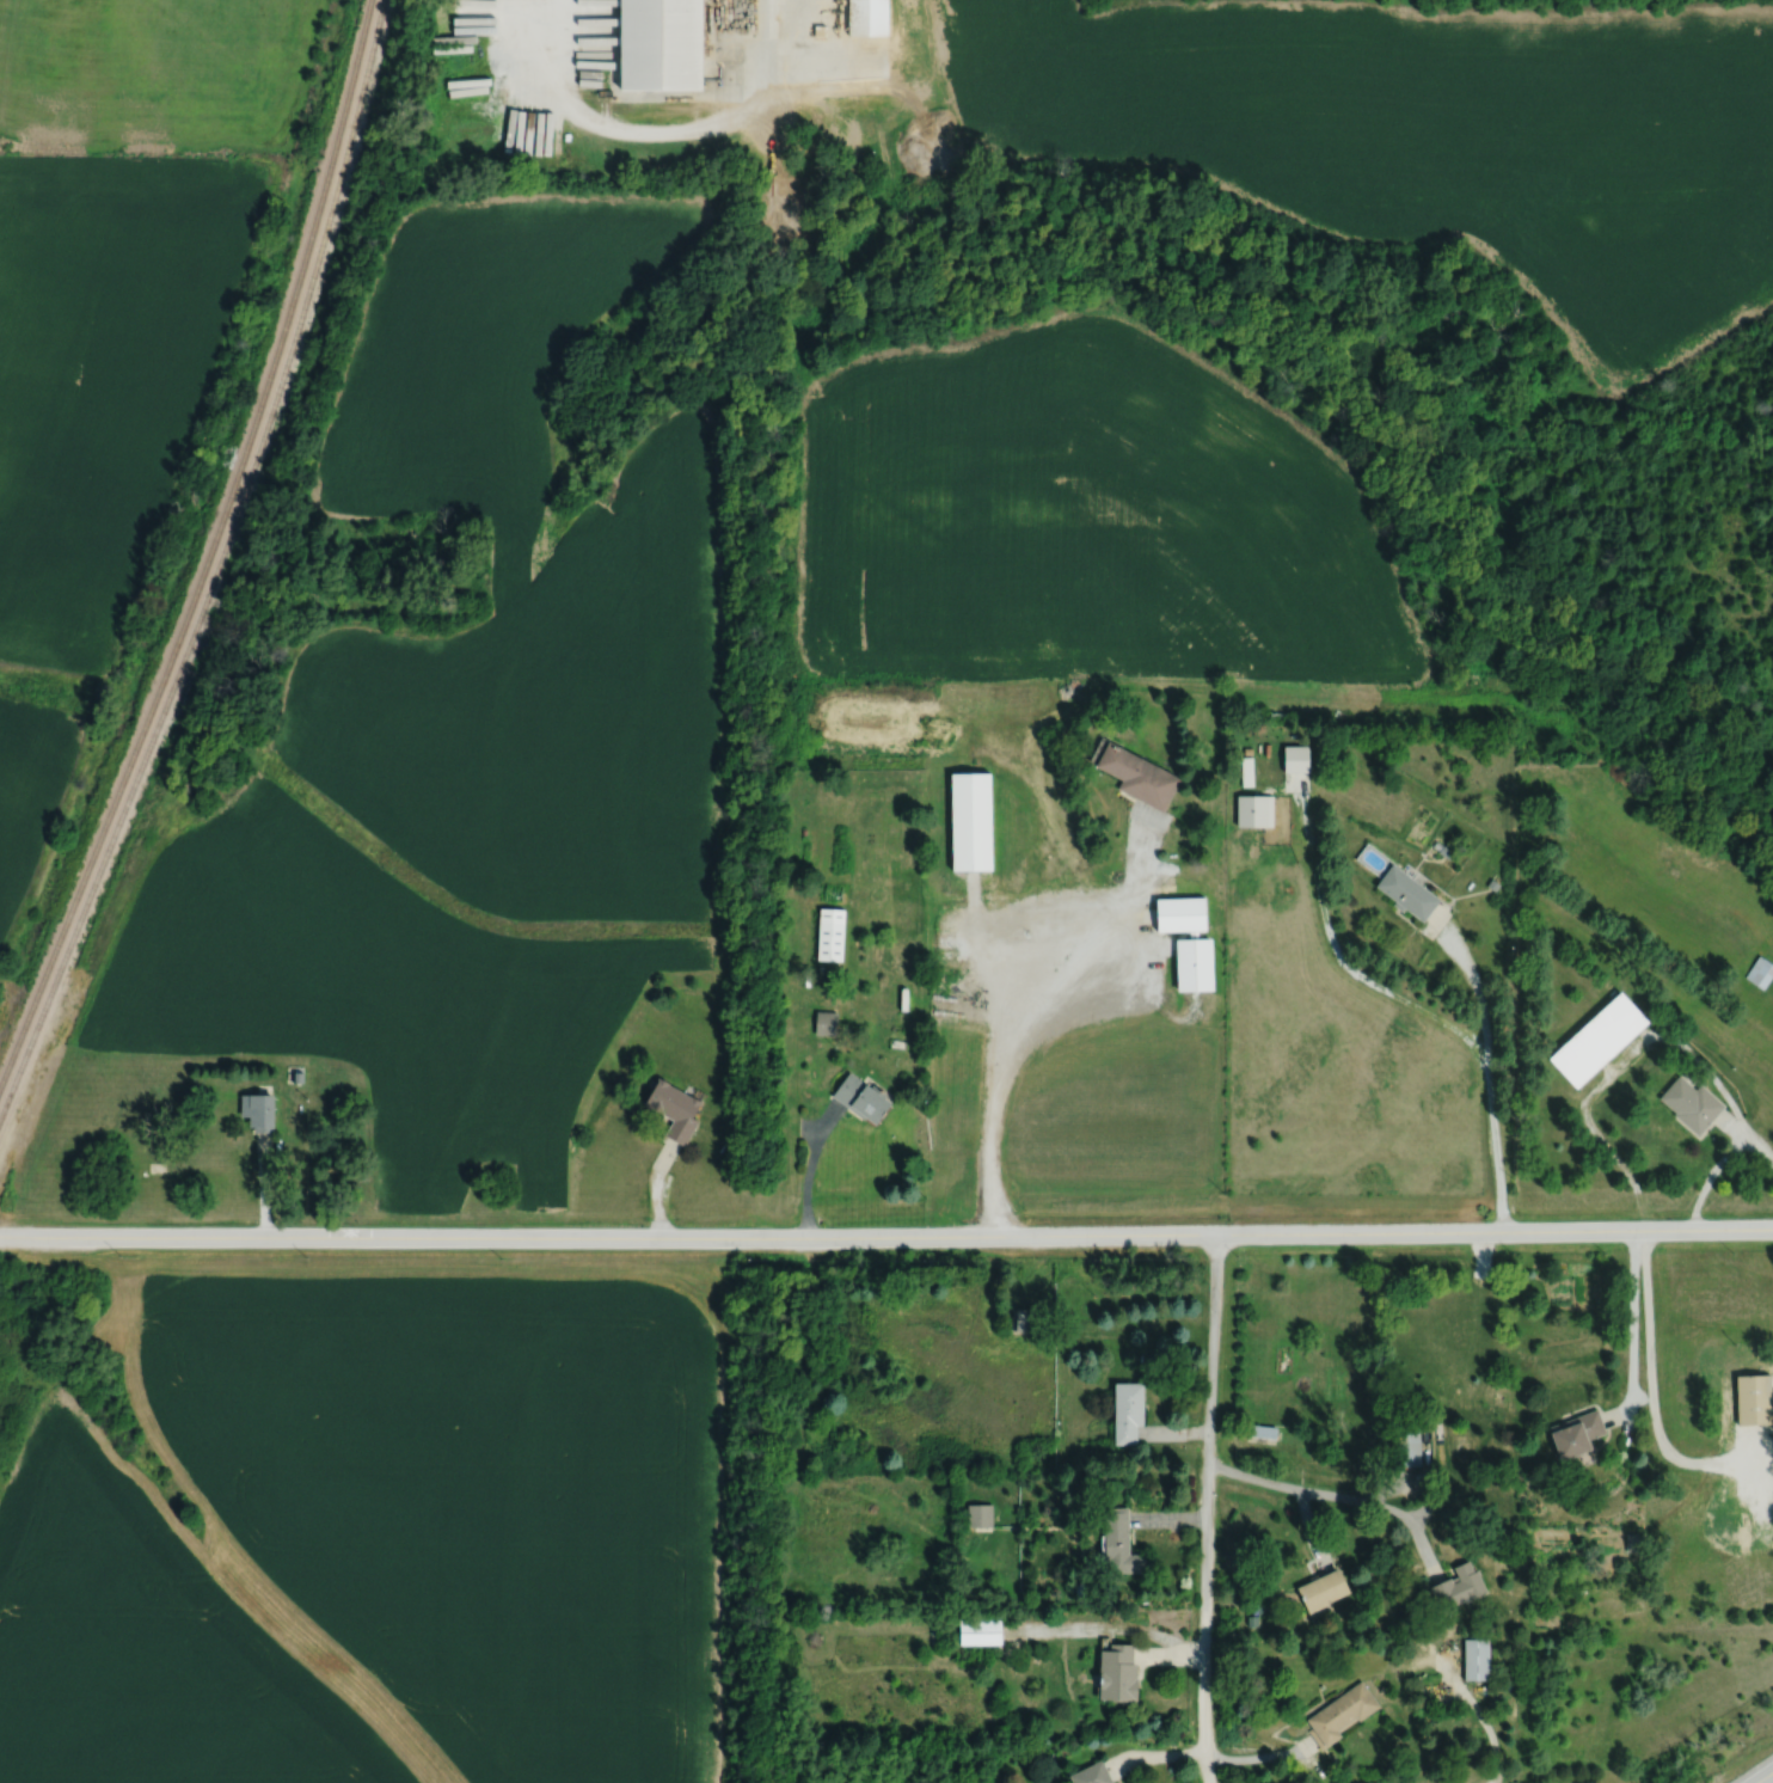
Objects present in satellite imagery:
building: (656, 45)
road: (756, 53)
railway: (213, 550)
railway: (217, 565)
building: (1245, 772)
building: (1135, 776)
building: (968, 821)
building: (1404, 891)
building: (1177, 913)
building: (829, 933)
road: (1342, 961)
building: (1190, 964)
building: (1760, 972)
road: (1030, 1012)
building: (826, 1019)
building: (1594, 1038)
road: (1490, 1078)
building: (858, 1098)
building: (1688, 1103)
building: (670, 1109)
building: (253, 1111)
road: (1751, 1154)
road: (809, 1170)
road: (885, 1242)
building: (1018, 1319)
road: (1633, 1341)
building: (1751, 1399)
road: (1654, 1402)
building: (1124, 1411)
building: (1259, 1430)
building: (1573, 1434)
building: (1406, 1450)
road: (1202, 1499)
road: (1335, 1501)
building: (1116, 1543)
building: (1456, 1586)
building: (1320, 1589)
building: (976, 1631)
road: (1100, 1635)
building: (1473, 1660)
building: (1114, 1672)
building: (1339, 1712)
road: (1480, 1721)
road: (1201, 1770)
building: (1088, 1775)
road: (1766, 1778)

